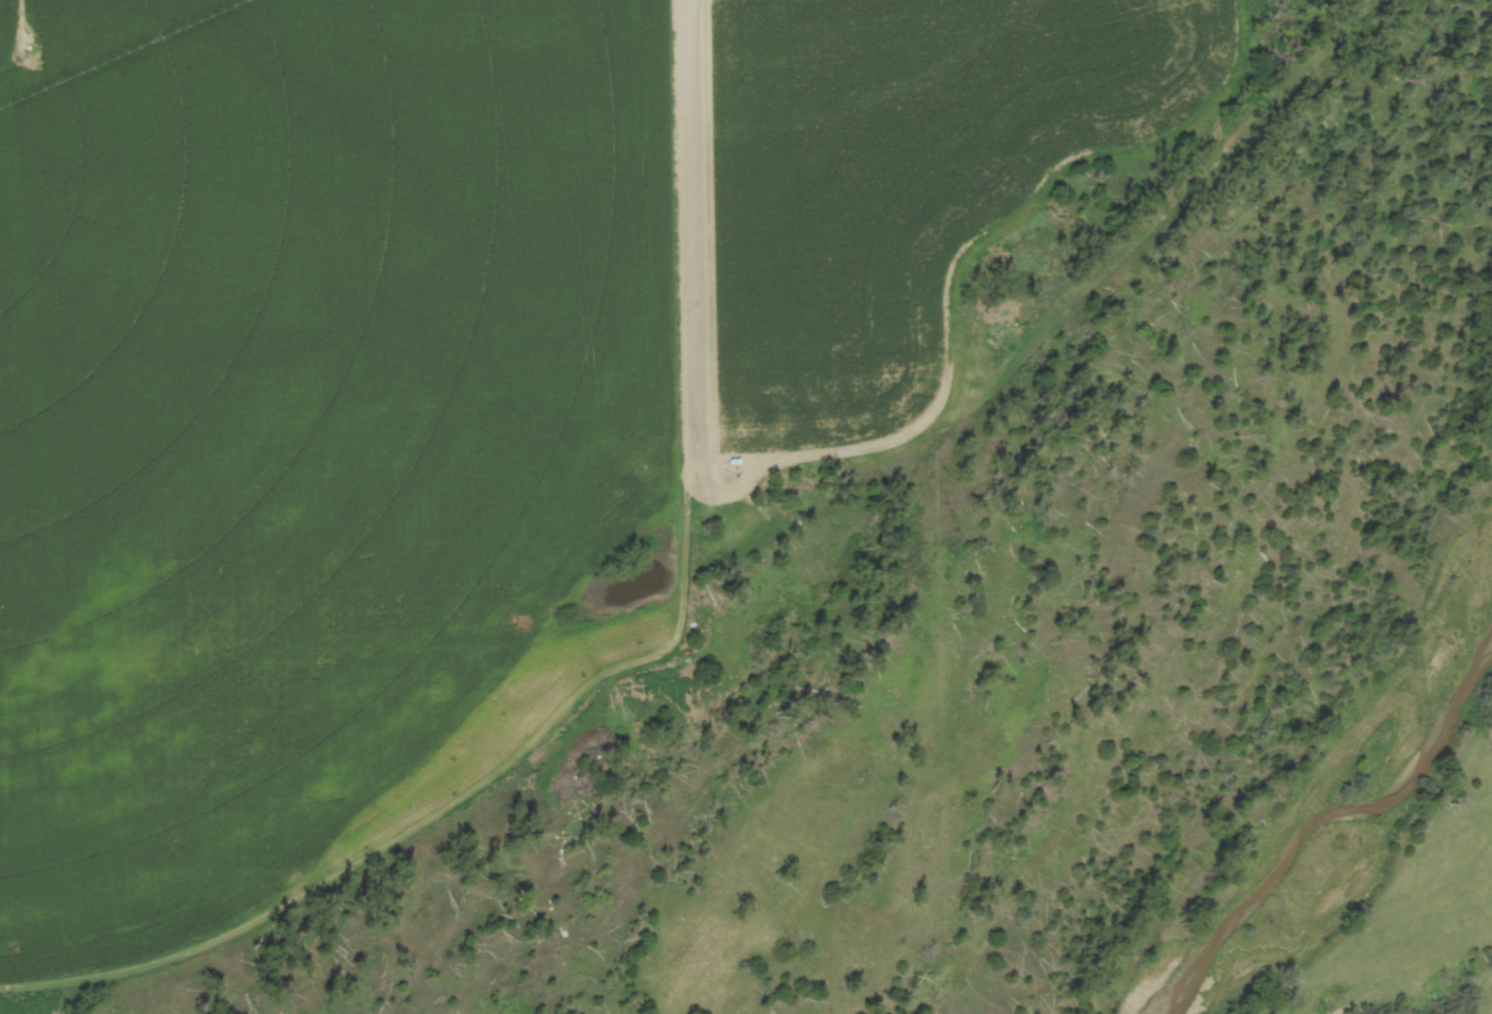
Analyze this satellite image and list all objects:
river: (1322, 822)

